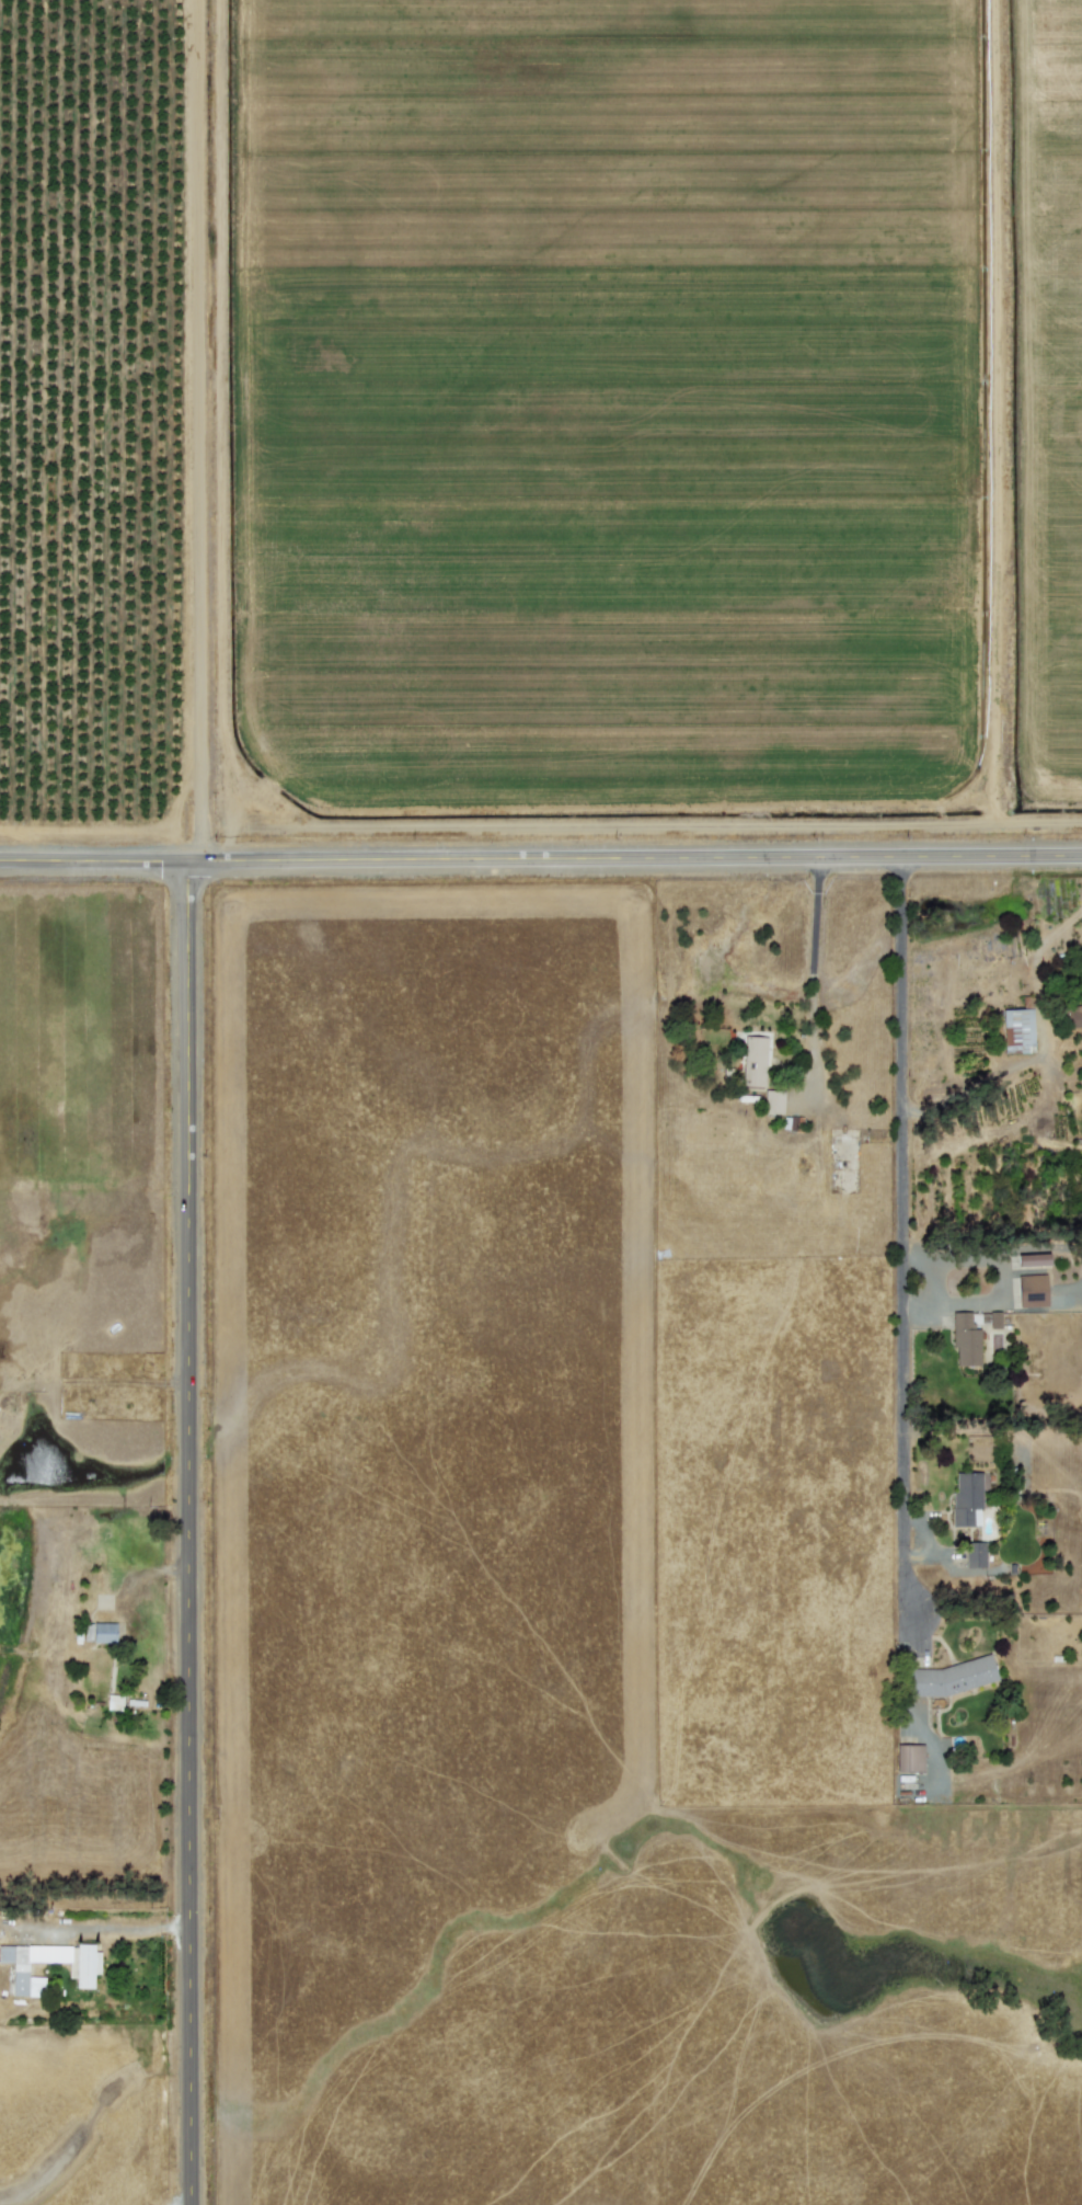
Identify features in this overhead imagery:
road: (202, 430)
road: (641, 824)
road: (541, 857)
road: (811, 963)
building: (1077, 1013)
building: (1017, 1028)
building: (753, 1061)
building: (773, 1101)
road: (903, 1219)
building: (1034, 1259)
building: (994, 1318)
building: (965, 1339)
building: (966, 1498)
road: (191, 1532)
building: (975, 1554)
building: (100, 1631)
building: (952, 1676)
building: (909, 1757)
building: (82, 1966)

